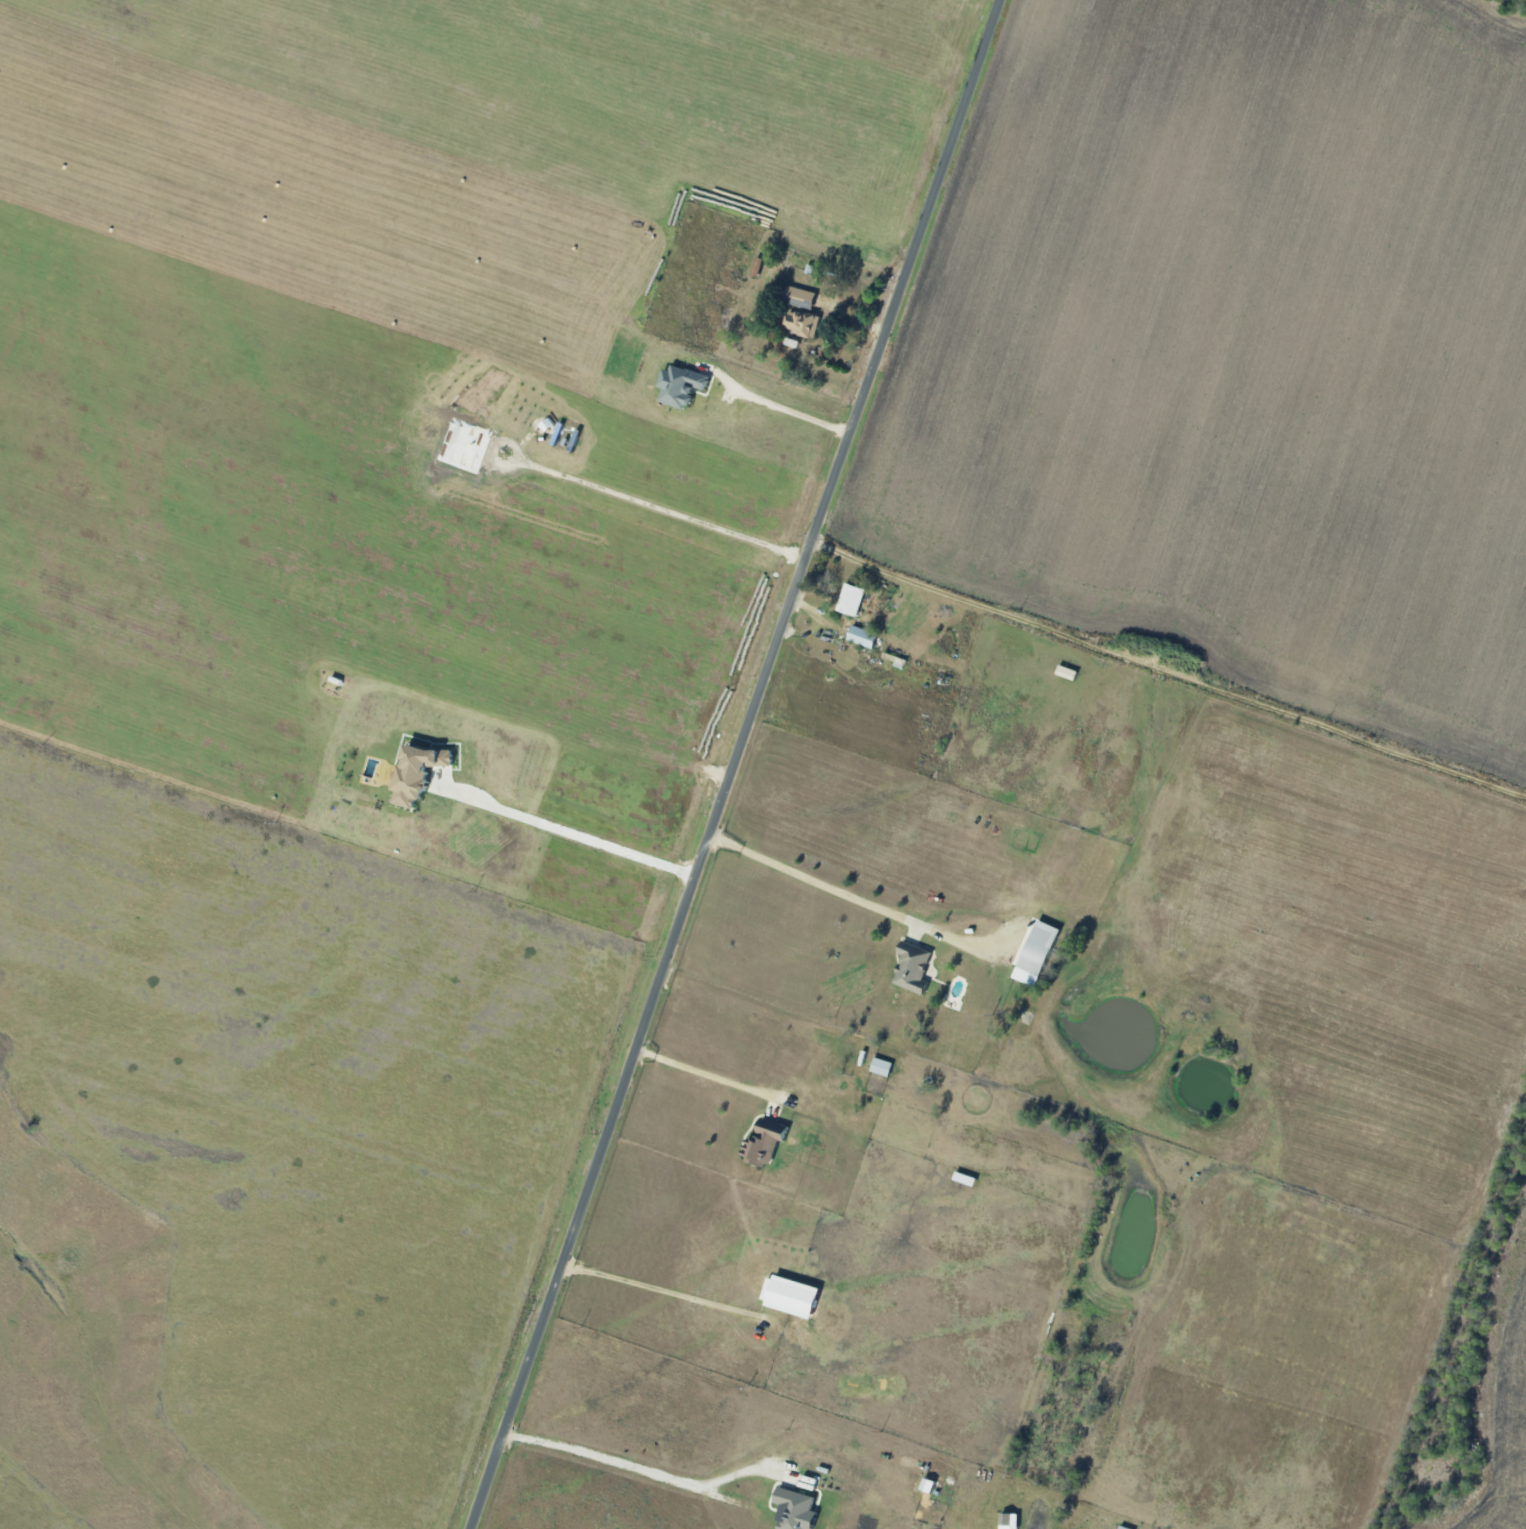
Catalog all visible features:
building: (799, 297)
building: (800, 324)
building: (678, 386)
road: (781, 409)
building: (466, 445)
building: (849, 601)
building: (861, 637)
road: (1169, 670)
road: (736, 764)
building: (411, 773)
road: (570, 846)
road: (836, 891)
building: (1034, 953)
building: (911, 968)
building: (880, 1067)
road: (709, 1077)
building: (762, 1142)
road: (662, 1291)
building: (788, 1297)
road: (621, 1477)
building: (793, 1510)

